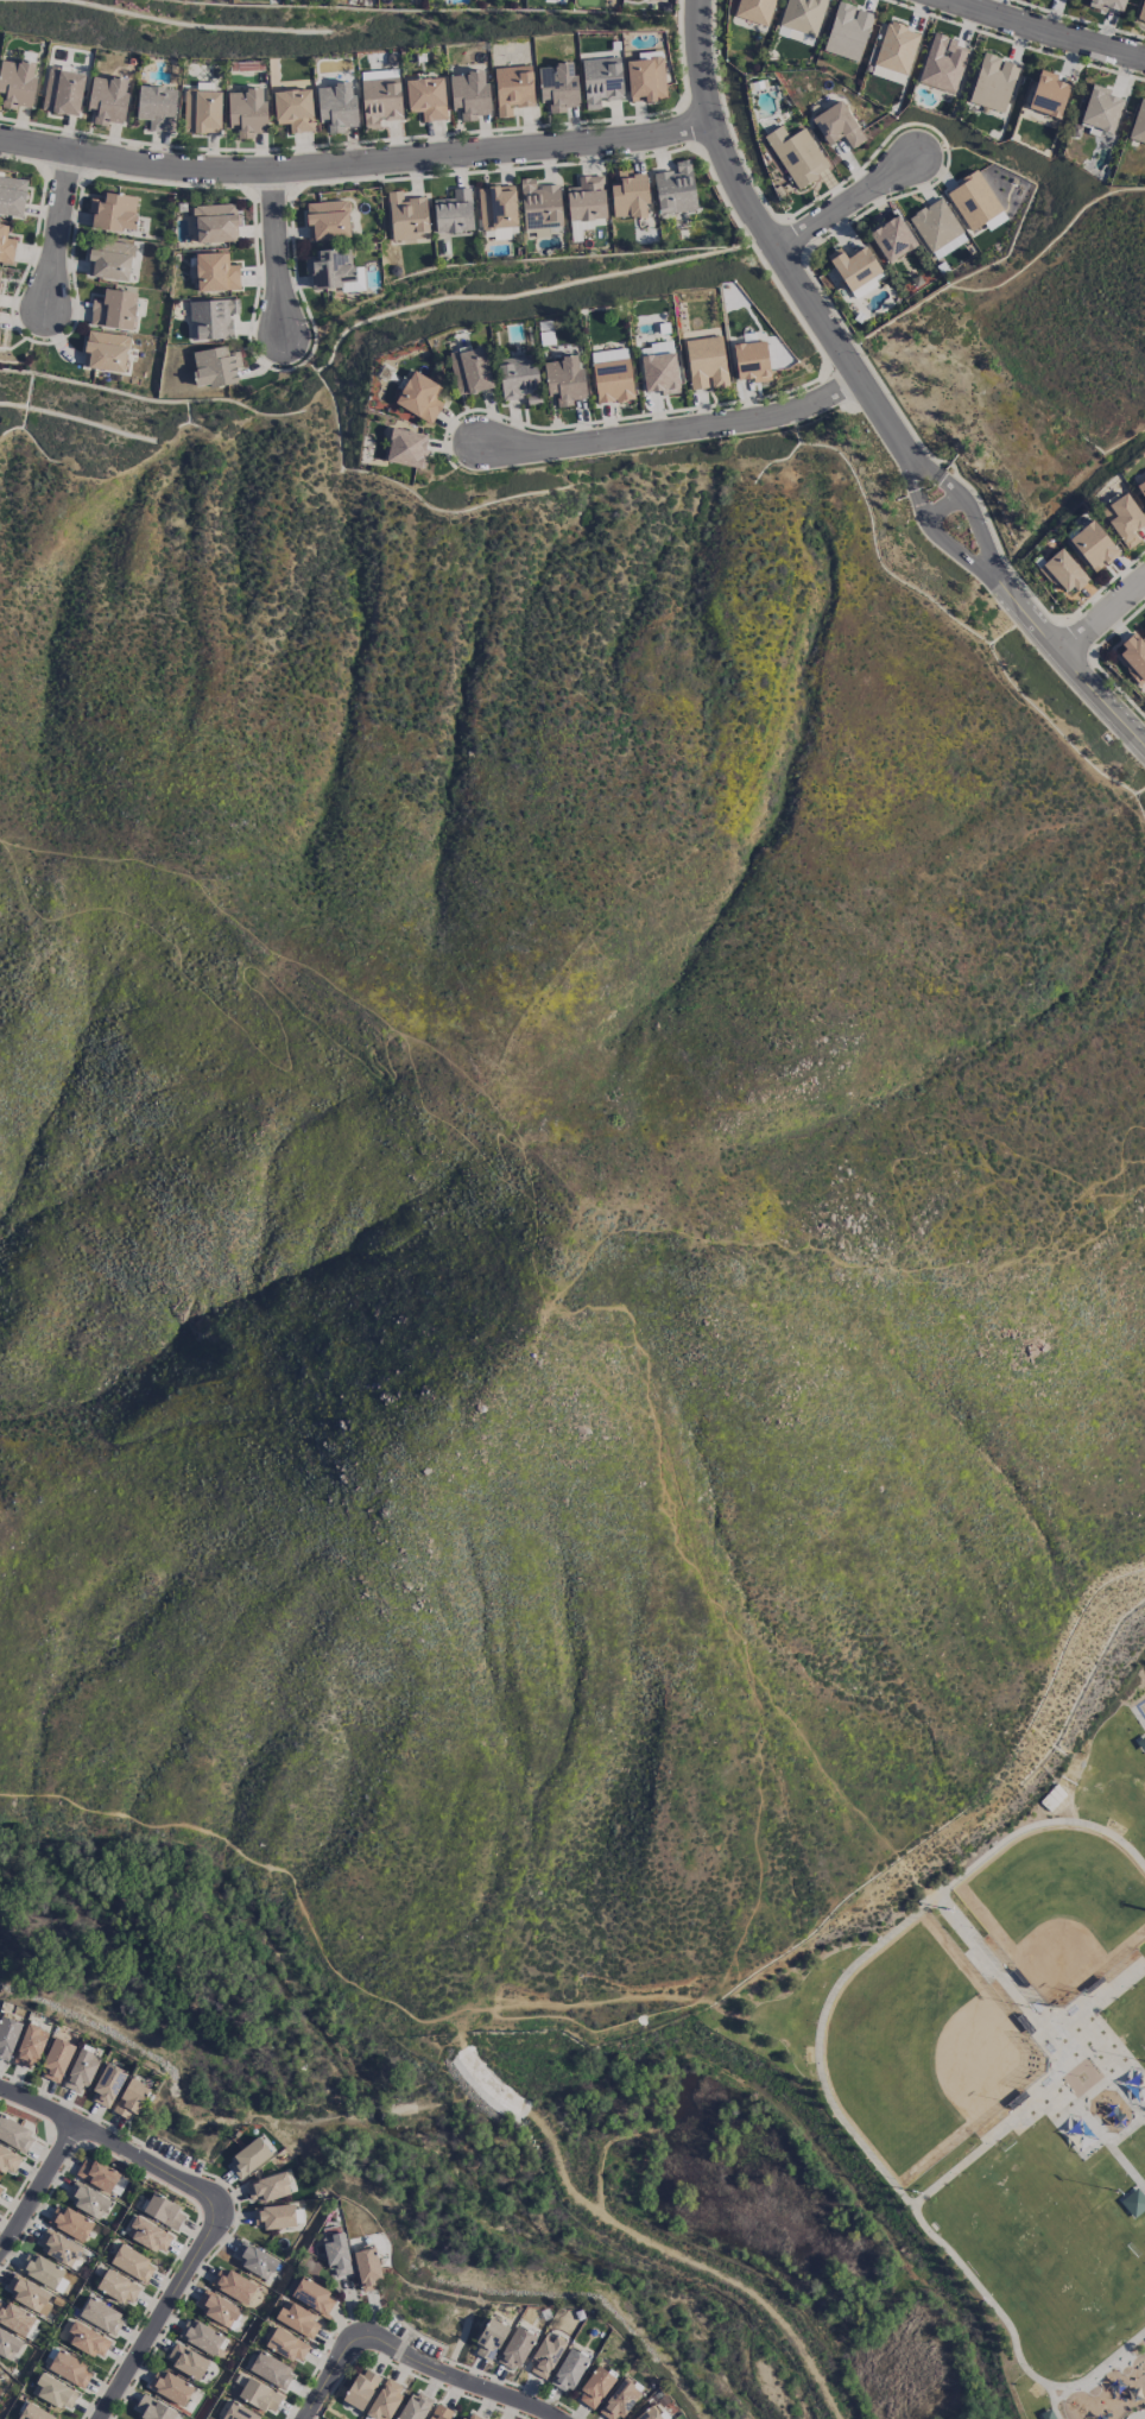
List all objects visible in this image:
building: (1108, 5)
building: (754, 10)
building: (1141, 11)
building: (802, 15)
building: (847, 31)
road: (1040, 32)
building: (896, 48)
building: (942, 63)
building: (645, 78)
building: (601, 80)
building: (993, 82)
building: (17, 83)
building: (557, 87)
building: (512, 88)
building: (62, 91)
building: (469, 94)
building: (1048, 94)
building: (426, 97)
building: (107, 99)
building: (380, 101)
building: (336, 106)
building: (157, 107)
building: (1101, 108)
building: (293, 109)
building: (202, 110)
building: (247, 112)
building: (1138, 122)
building: (837, 125)
building: (796, 154)
road: (352, 163)
building: (675, 188)
building: (630, 195)
building: (12, 196)
building: (587, 198)
building: (973, 200)
building: (539, 204)
building: (496, 206)
road: (841, 206)
building: (114, 211)
building: (454, 211)
building: (407, 216)
building: (328, 219)
building: (216, 222)
building: (935, 223)
building: (546, 230)
road: (59, 233)
building: (892, 238)
road: (766, 242)
building: (6, 245)
building: (949, 245)
road: (276, 255)
building: (110, 259)
building: (854, 266)
building: (334, 270)
building: (0, 272)
building: (216, 272)
building: (114, 309)
building: (211, 318)
building: (107, 350)
building: (751, 361)
building: (706, 362)
building: (214, 366)
building: (659, 368)
building: (470, 370)
building: (612, 374)
building: (518, 378)
building: (564, 379)
building: (419, 397)
road: (673, 429)
building: (407, 447)
road: (925, 465)
road: (916, 472)
building: (1141, 487)
road: (945, 510)
road: (973, 516)
building: (1124, 518)
road: (942, 538)
building: (1093, 545)
building: (1062, 570)
road: (1101, 615)
building: (1133, 656)
road: (1067, 659)
road: (207, 898)
road: (325, 1031)
road: (900, 1201)
flagpole: (534, 1329)
road: (719, 1605)
road: (1035, 1701)
park: (1141, 1707)
road: (1138, 1717)
building: (1141, 1742)
road: (753, 1831)
park: (1059, 1907)
road: (336, 1965)
park: (1133, 2008)
road: (1032, 2011)
road: (764, 2022)
park: (1004, 2032)
building: (7, 2035)
building: (30, 2046)
road: (1069, 2048)
park: (922, 2049)
building: (56, 2059)
road: (1057, 2060)
building: (81, 2071)
road: (1107, 2073)
road: (665, 2077)
flagpole: (1082, 2077)
road: (1086, 2078)
building: (107, 2085)
road: (824, 2089)
road: (1093, 2089)
building: (131, 2098)
building: (14, 2134)
road: (1101, 2135)
road: (986, 2143)
road: (114, 2145)
road: (602, 2155)
building: (248, 2156)
building: (8, 2160)
building: (96, 2173)
building: (0, 2184)
building: (267, 2187)
road: (38, 2189)
building: (87, 2198)
building: (1133, 2202)
building: (163, 2210)
building: (274, 2216)
building: (72, 2223)
building: (148, 2235)
park: (1046, 2246)
building: (61, 2248)
building: (337, 2255)
road: (687, 2259)
building: (255, 2260)
building: (132, 2262)
building: (367, 2267)
building: (43, 2270)
building: (233, 2285)
building: (118, 2286)
building: (29, 2293)
building: (314, 2295)
building: (219, 2309)
building: (101, 2316)
building: (15, 2318)
road: (160, 2319)
building: (298, 2319)
building: (202, 2337)
building: (489, 2338)
building: (87, 2339)
building: (8, 2344)
building: (286, 2344)
building: (515, 2348)
building: (545, 2355)
building: (186, 2360)
road: (412, 2360)
building: (70, 2369)
building: (271, 2369)
building: (568, 2369)
building: (170, 2386)
building: (595, 2386)
building: (361, 2388)
building: (55, 2392)
building: (259, 2395)
road: (1062, 2395)
building: (620, 2399)
building: (385, 2400)
road: (1055, 2400)
building: (415, 2406)
building: (152, 2408)
building: (441, 2412)
building: (33, 2413)
building: (238, 2413)
building: (652, 2413)
road: (1137, 2414)
building: (469, 2415)
road: (1141, 2418)

